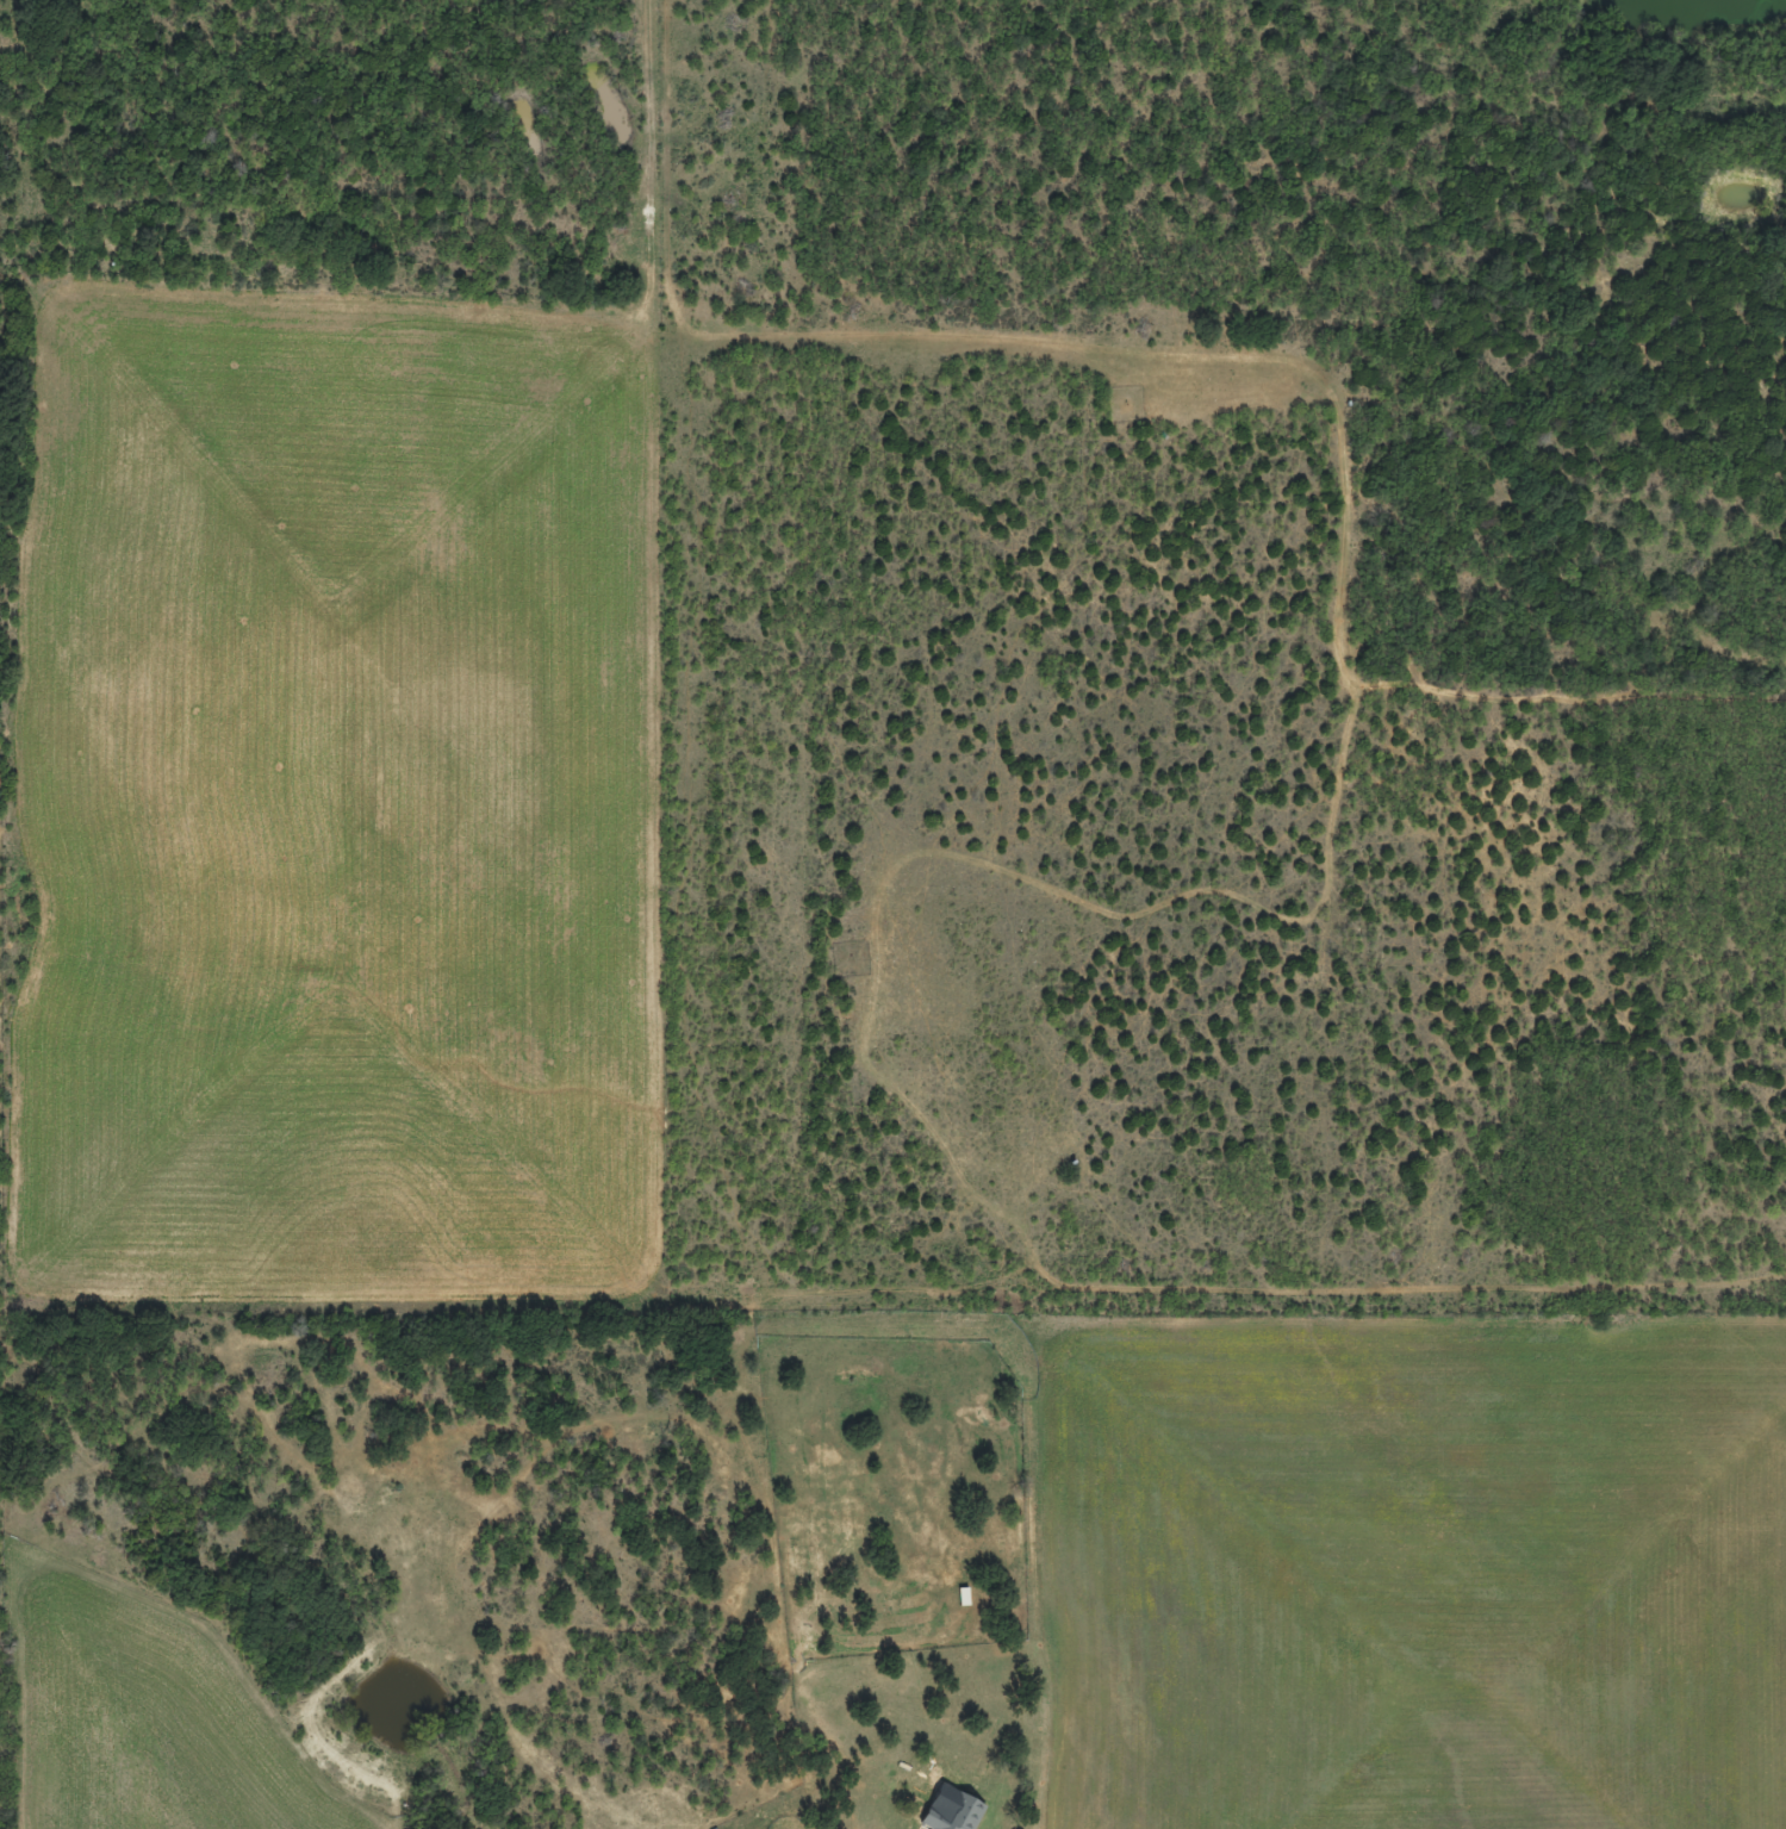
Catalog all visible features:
building: (958, 1817)

